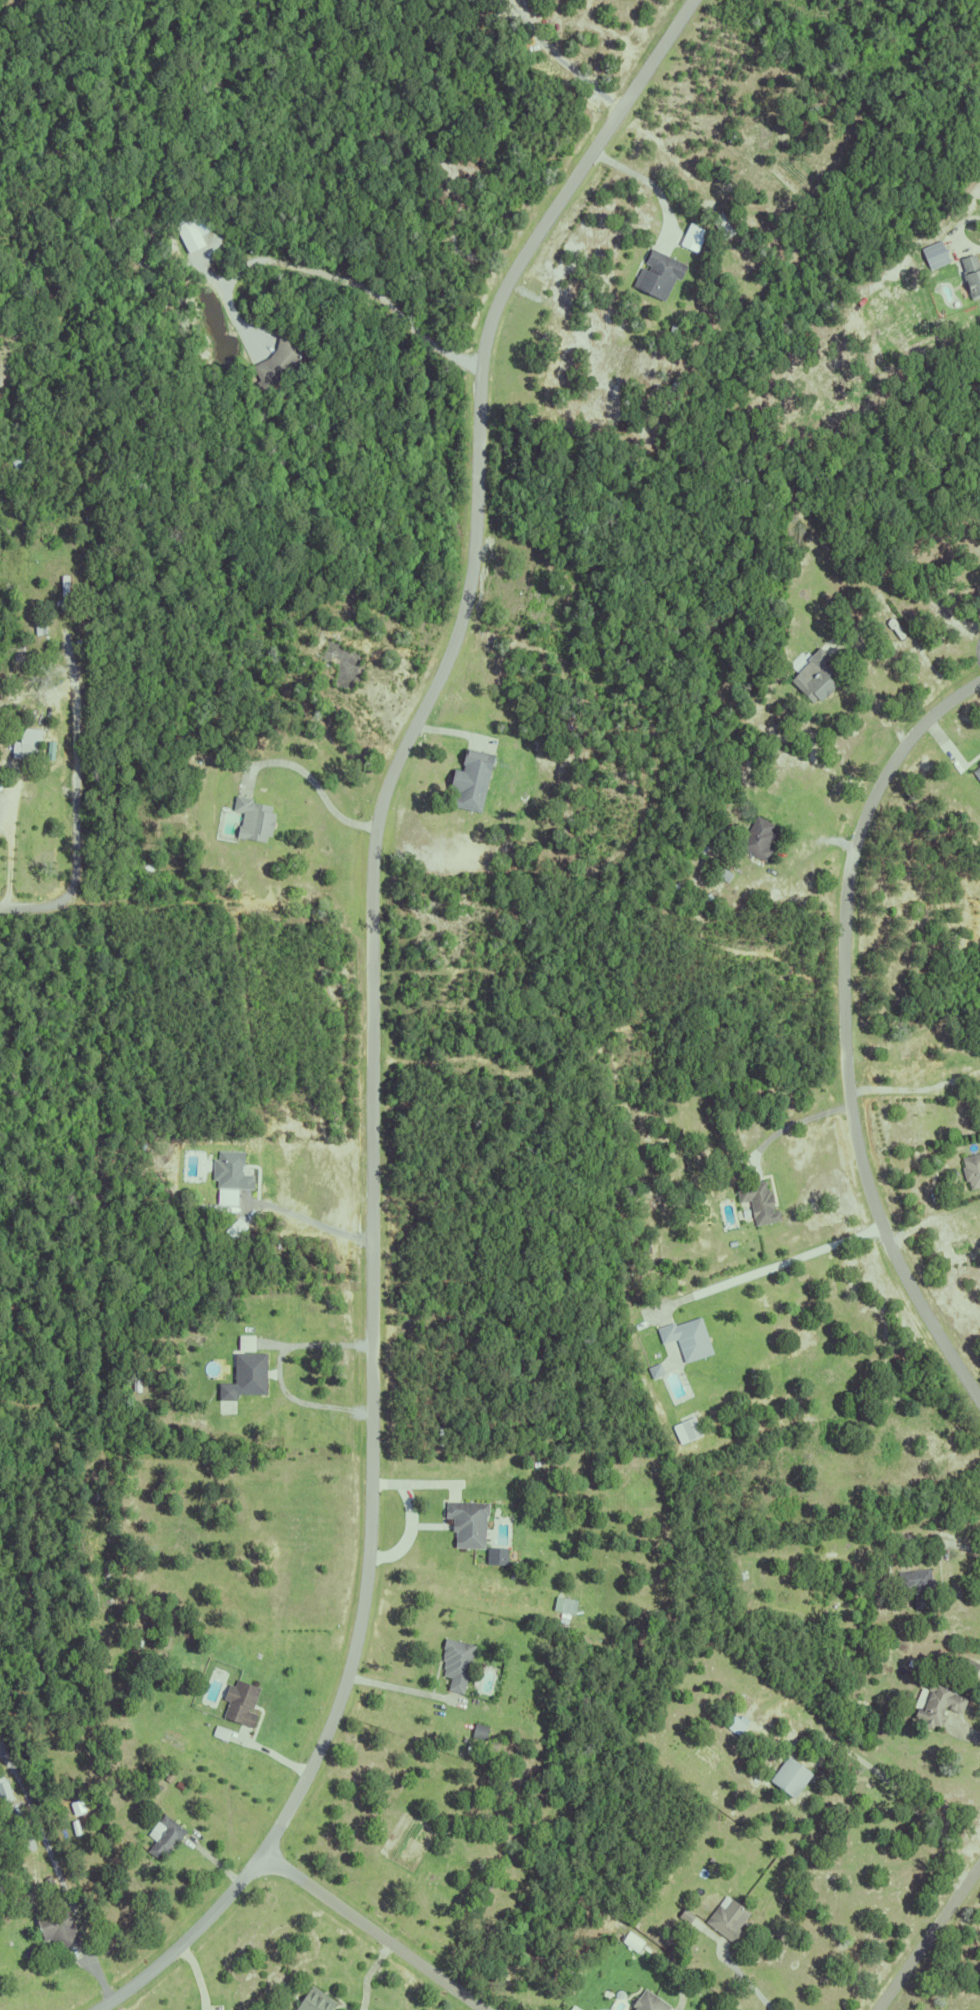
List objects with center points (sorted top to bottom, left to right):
road: (650, 182)
road: (957, 232)
building: (191, 237)
building: (933, 256)
road: (327, 275)
building: (656, 275)
building: (970, 275)
building: (21, 461)
building: (76, 580)
building: (62, 585)
building: (344, 664)
building: (813, 677)
road: (875, 702)
building: (16, 726)
building: (27, 752)
building: (976, 772)
road: (75, 773)
road: (309, 773)
building: (467, 782)
building: (250, 820)
building: (756, 839)
road: (10, 853)
road: (371, 895)
road: (42, 911)
road: (838, 1031)
road: (912, 1086)
road: (793, 1118)
building: (971, 1166)
building: (229, 1172)
building: (757, 1198)
road: (931, 1215)
road: (305, 1218)
building: (643, 1242)
road: (773, 1266)
building: (684, 1339)
building: (249, 1343)
road: (276, 1366)
building: (249, 1377)
building: (684, 1430)
building: (465, 1524)
road: (965, 1546)
building: (494, 1556)
building: (916, 1583)
building: (562, 1606)
building: (454, 1665)
building: (967, 1665)
road: (402, 1690)
building: (935, 1701)
building: (245, 1703)
building: (734, 1721)
building: (100, 1728)
road: (968, 1732)
road: (270, 1753)
building: (788, 1774)
building: (176, 1781)
building: (6, 1795)
road: (904, 1801)
building: (164, 1834)
building: (684, 1913)
building: (726, 1917)
building: (55, 1924)
road: (377, 1929)
road: (190, 1937)
road: (930, 1940)
road: (368, 1972)
road: (100, 1975)
road: (747, 1981)
building: (313, 1999)
building: (646, 2002)
building: (332, 2008)

